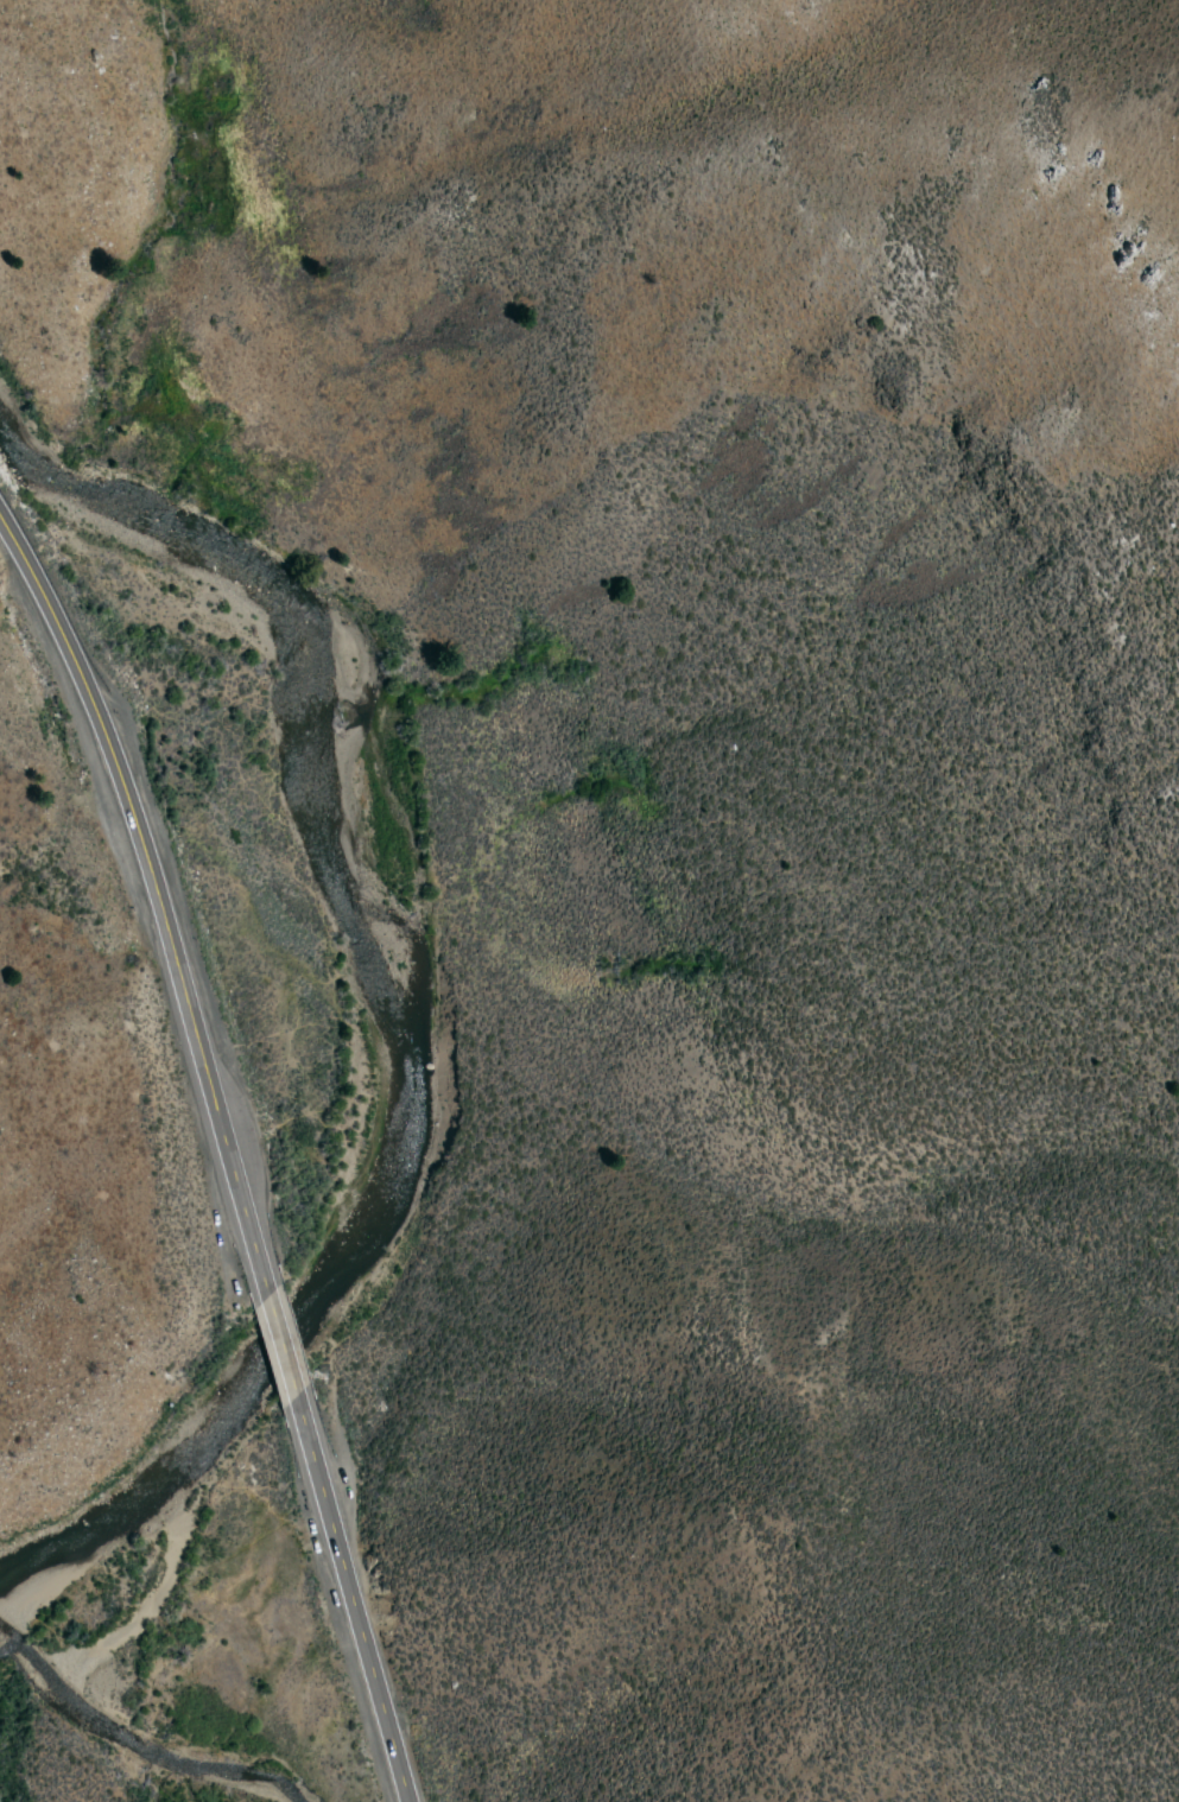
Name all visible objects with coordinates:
road: (156, 899)
river: (384, 994)
road: (279, 1346)
road: (349, 1600)

